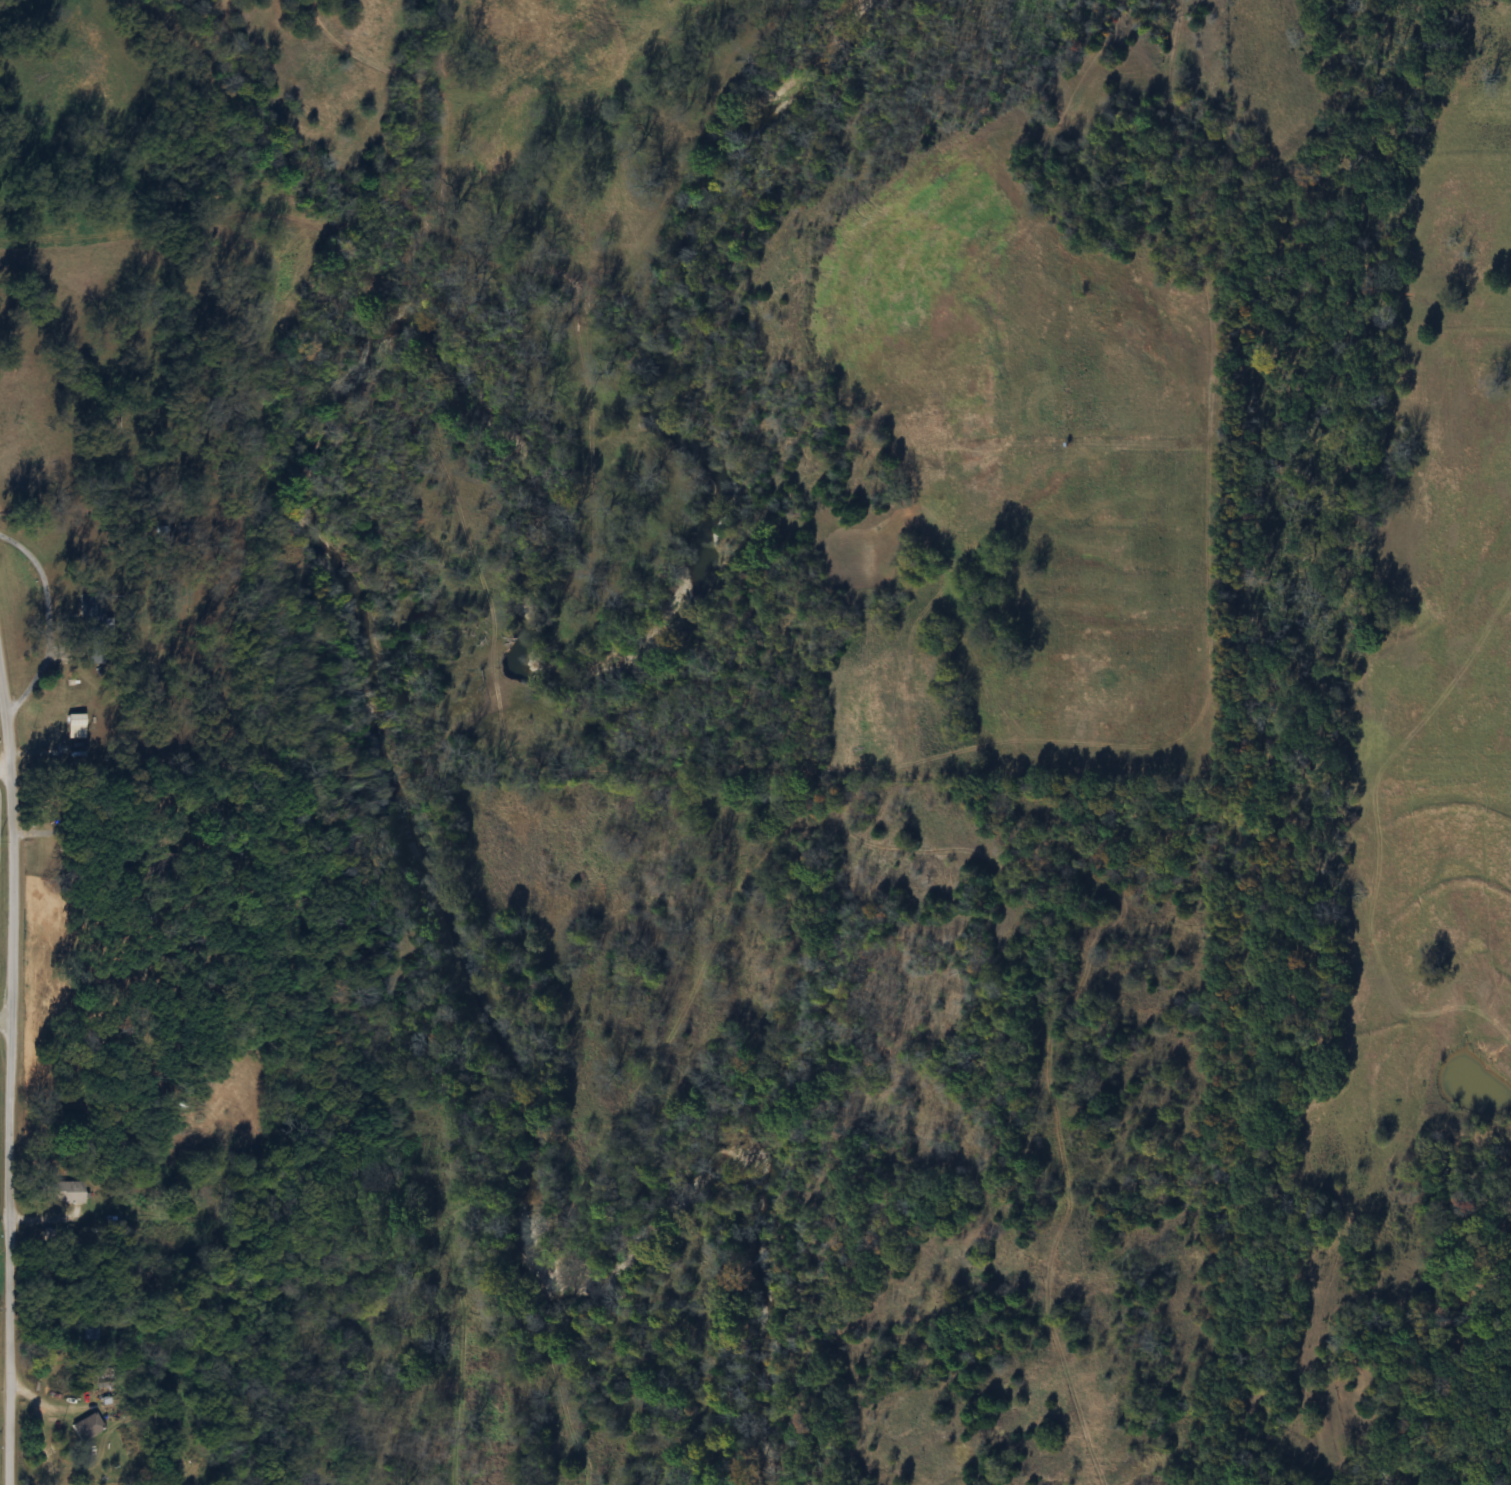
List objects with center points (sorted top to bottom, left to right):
building: (32, 270)
building: (93, 628)
building: (75, 720)
road: (5, 766)
road: (7, 1028)
road: (14, 1085)
building: (152, 1186)
building: (65, 1192)
building: (143, 1220)
building: (89, 1327)
building: (87, 1427)

